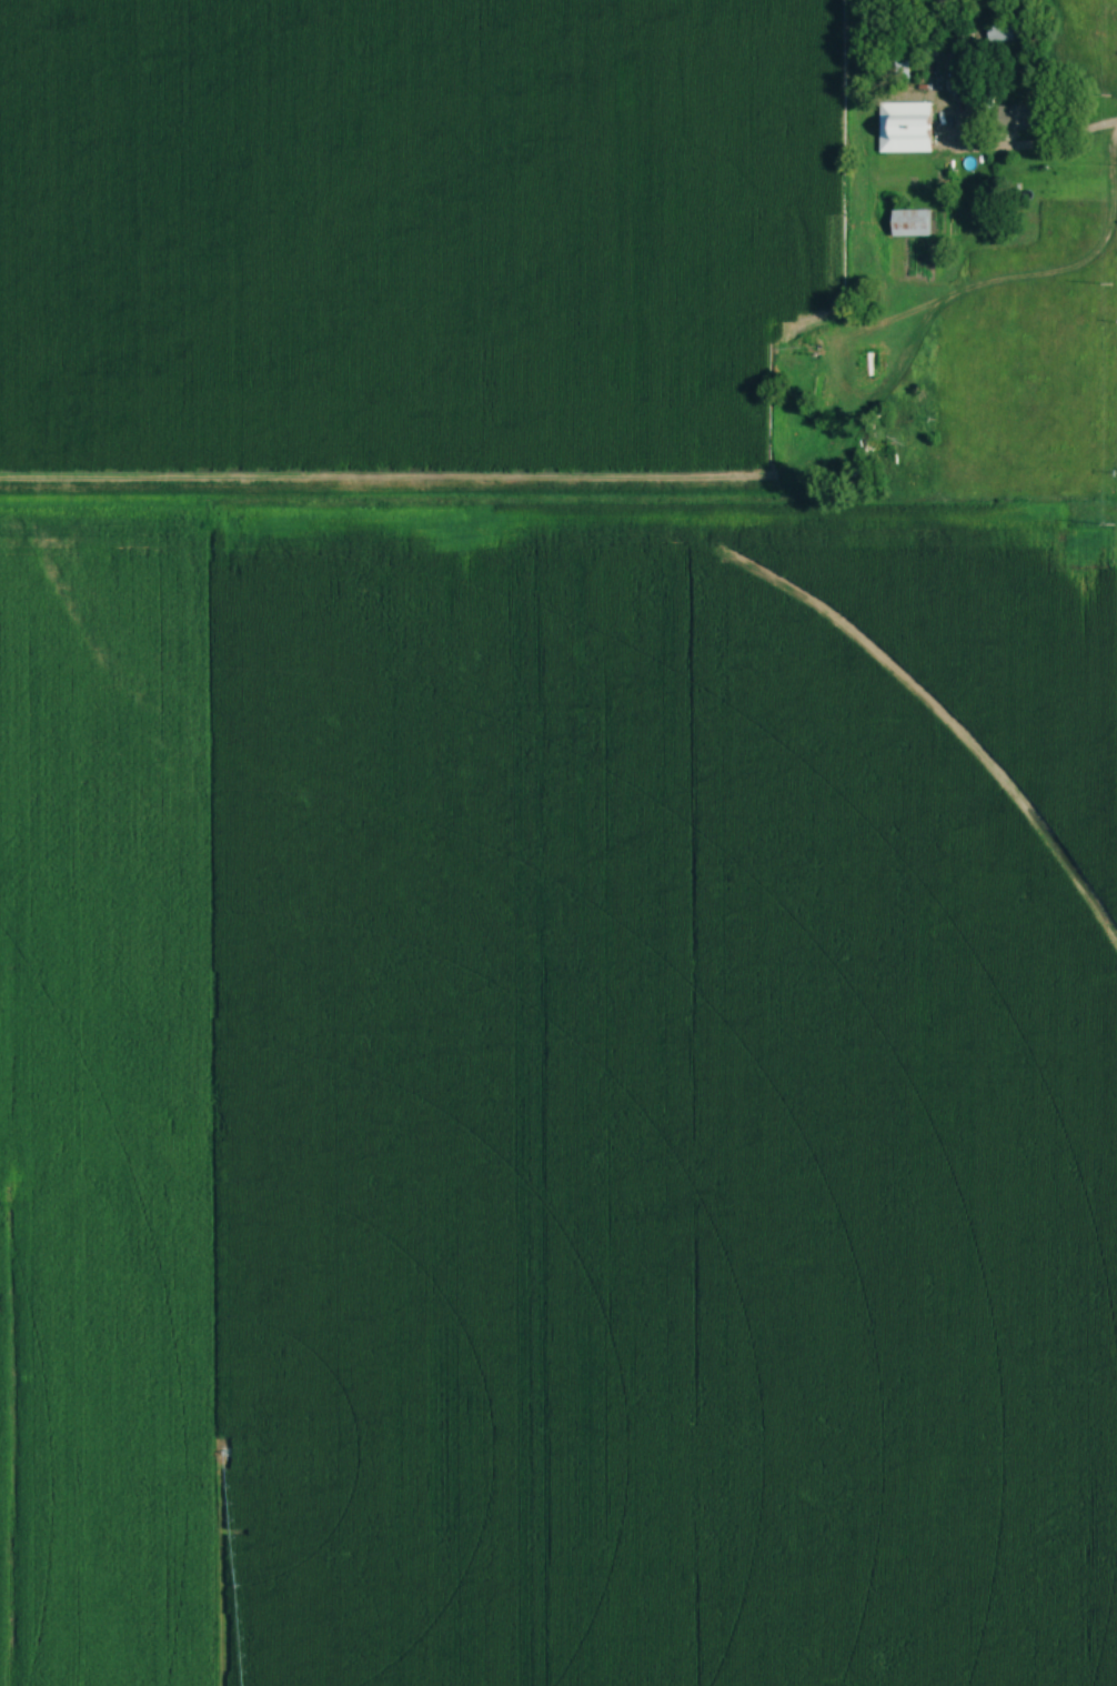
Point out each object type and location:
building: (962, 27)
building: (1020, 114)
building: (905, 126)
road: (1080, 126)
building: (909, 222)
building: (866, 364)
building: (824, 388)

